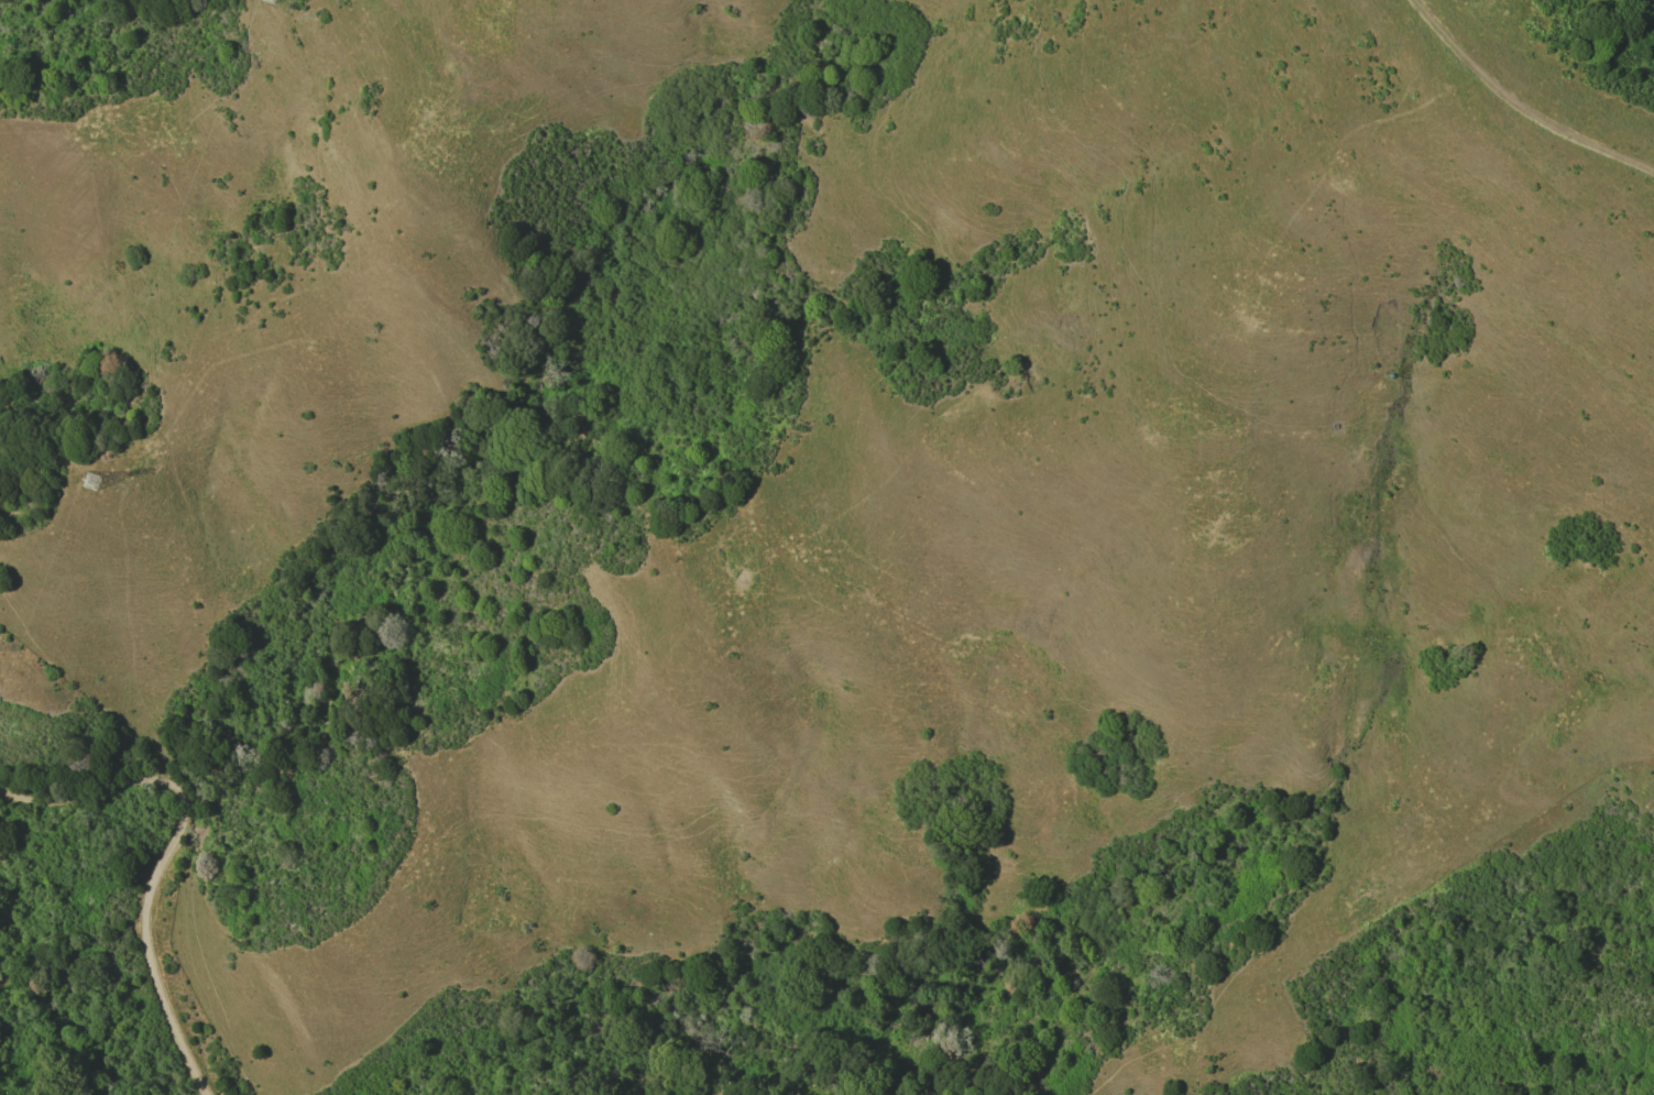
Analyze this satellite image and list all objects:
road: (1519, 103)
power tower: (91, 481)
road: (157, 859)

